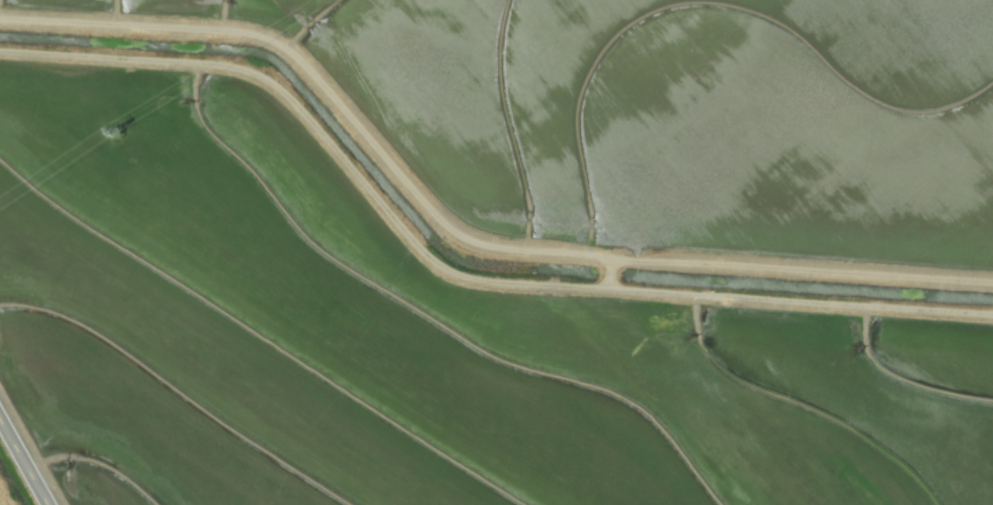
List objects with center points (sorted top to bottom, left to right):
power tower: (119, 138)
crop: (496, 252)
road: (452, 275)
road: (26, 456)

